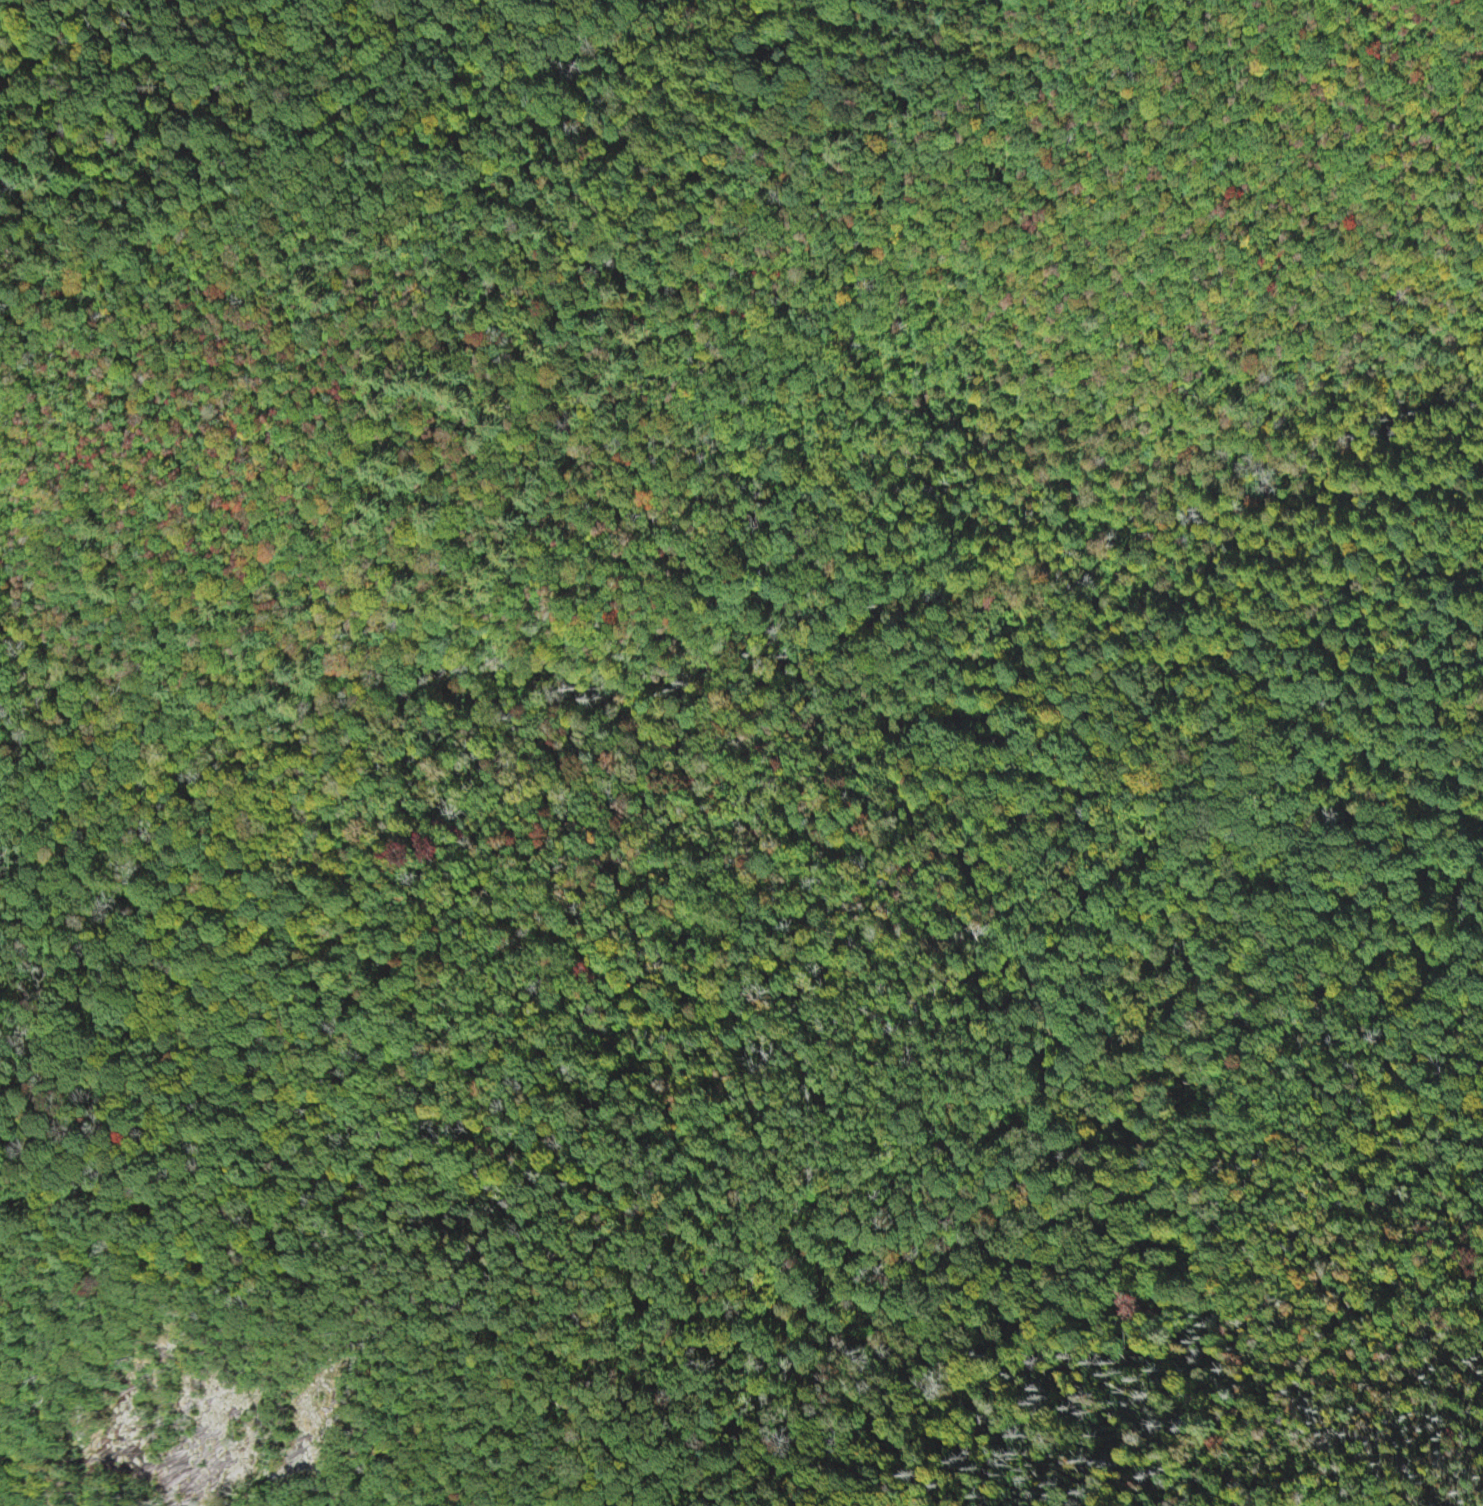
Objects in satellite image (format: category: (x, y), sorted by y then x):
road: (344, 1302)
road: (1286, 1493)

